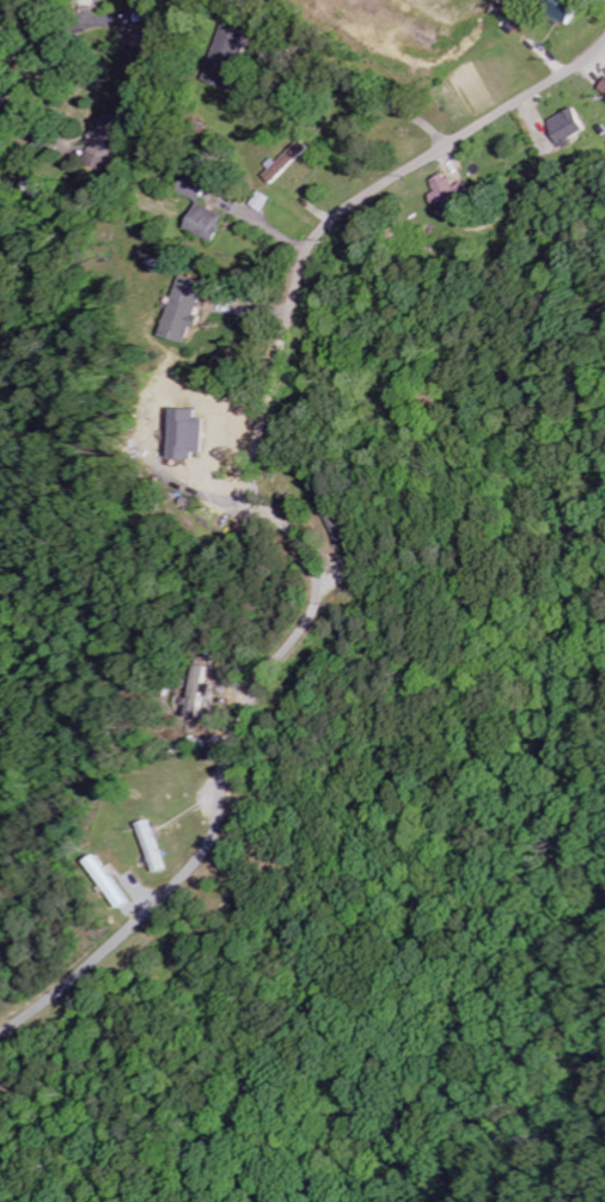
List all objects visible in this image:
building: (78, 2)
building: (556, 8)
road: (35, 30)
building: (214, 56)
building: (601, 86)
building: (564, 128)
building: (93, 152)
building: (279, 163)
building: (444, 189)
building: (255, 201)
building: (198, 221)
building: (179, 309)
building: (177, 429)
road: (281, 518)
building: (203, 684)

